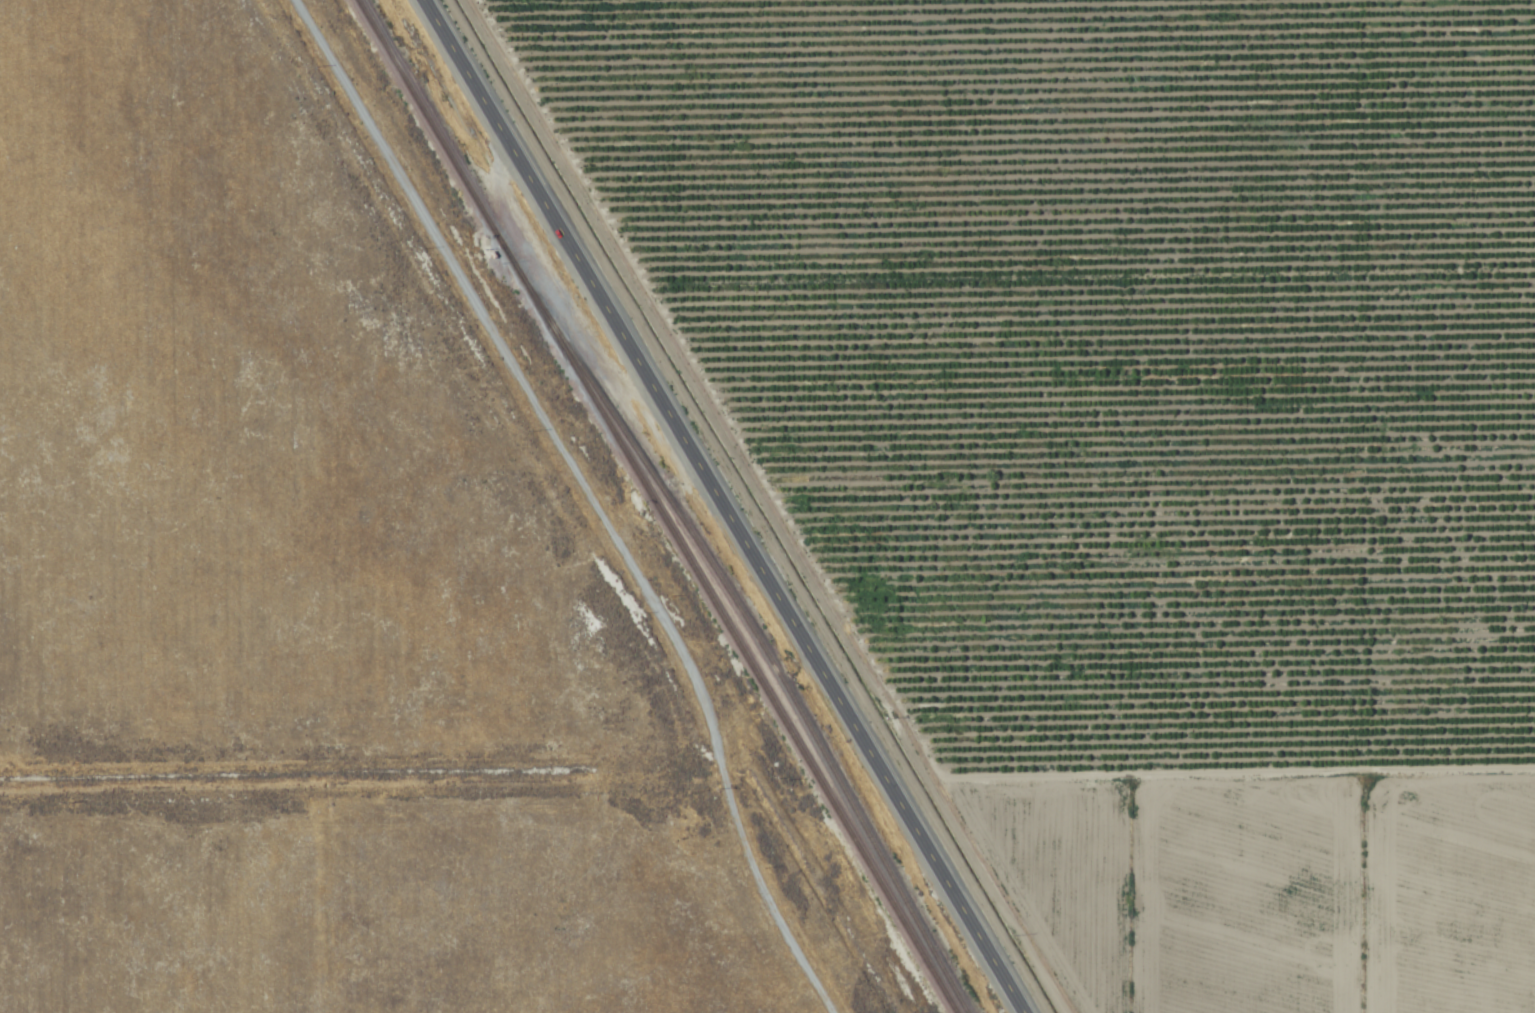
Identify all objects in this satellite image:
railway: (456, 170)
building: (650, 475)
road: (592, 495)
road: (728, 506)
park: (232, 547)
crop: (404, 572)
railway: (771, 669)
railway: (755, 676)

